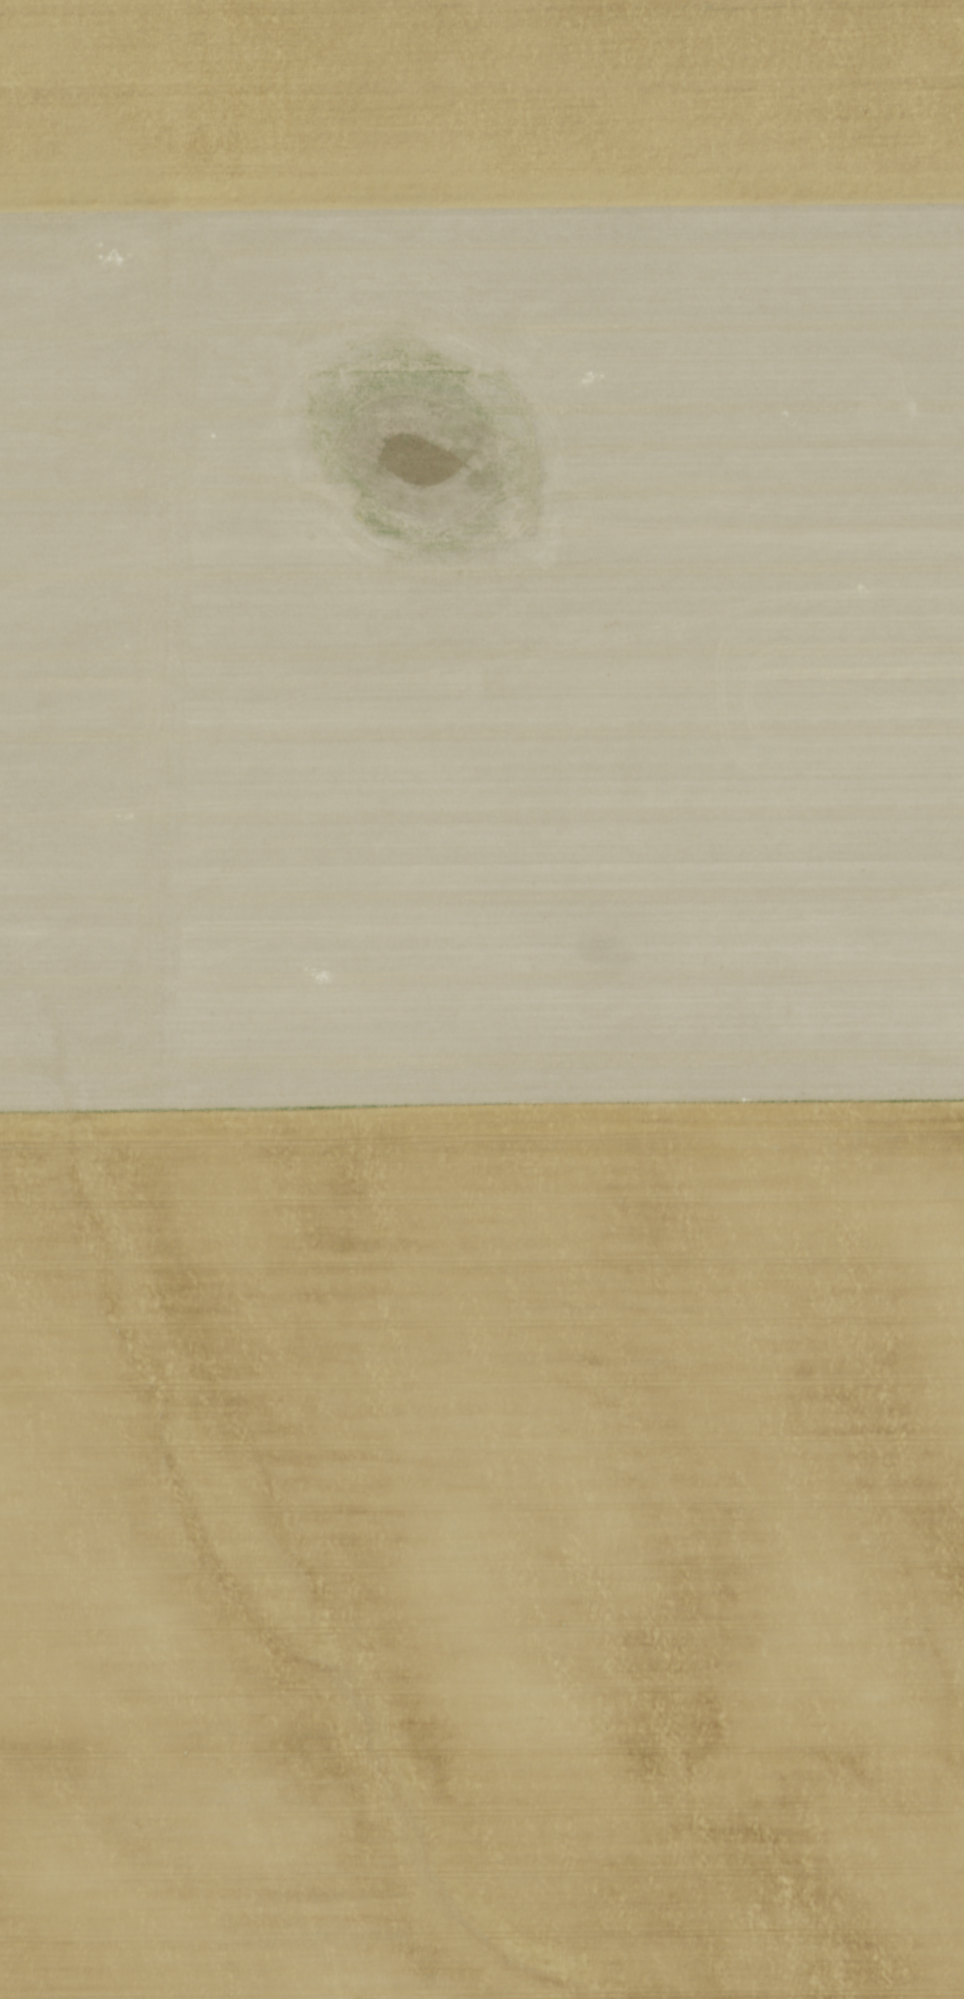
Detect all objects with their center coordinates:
crop: (482, 999)

